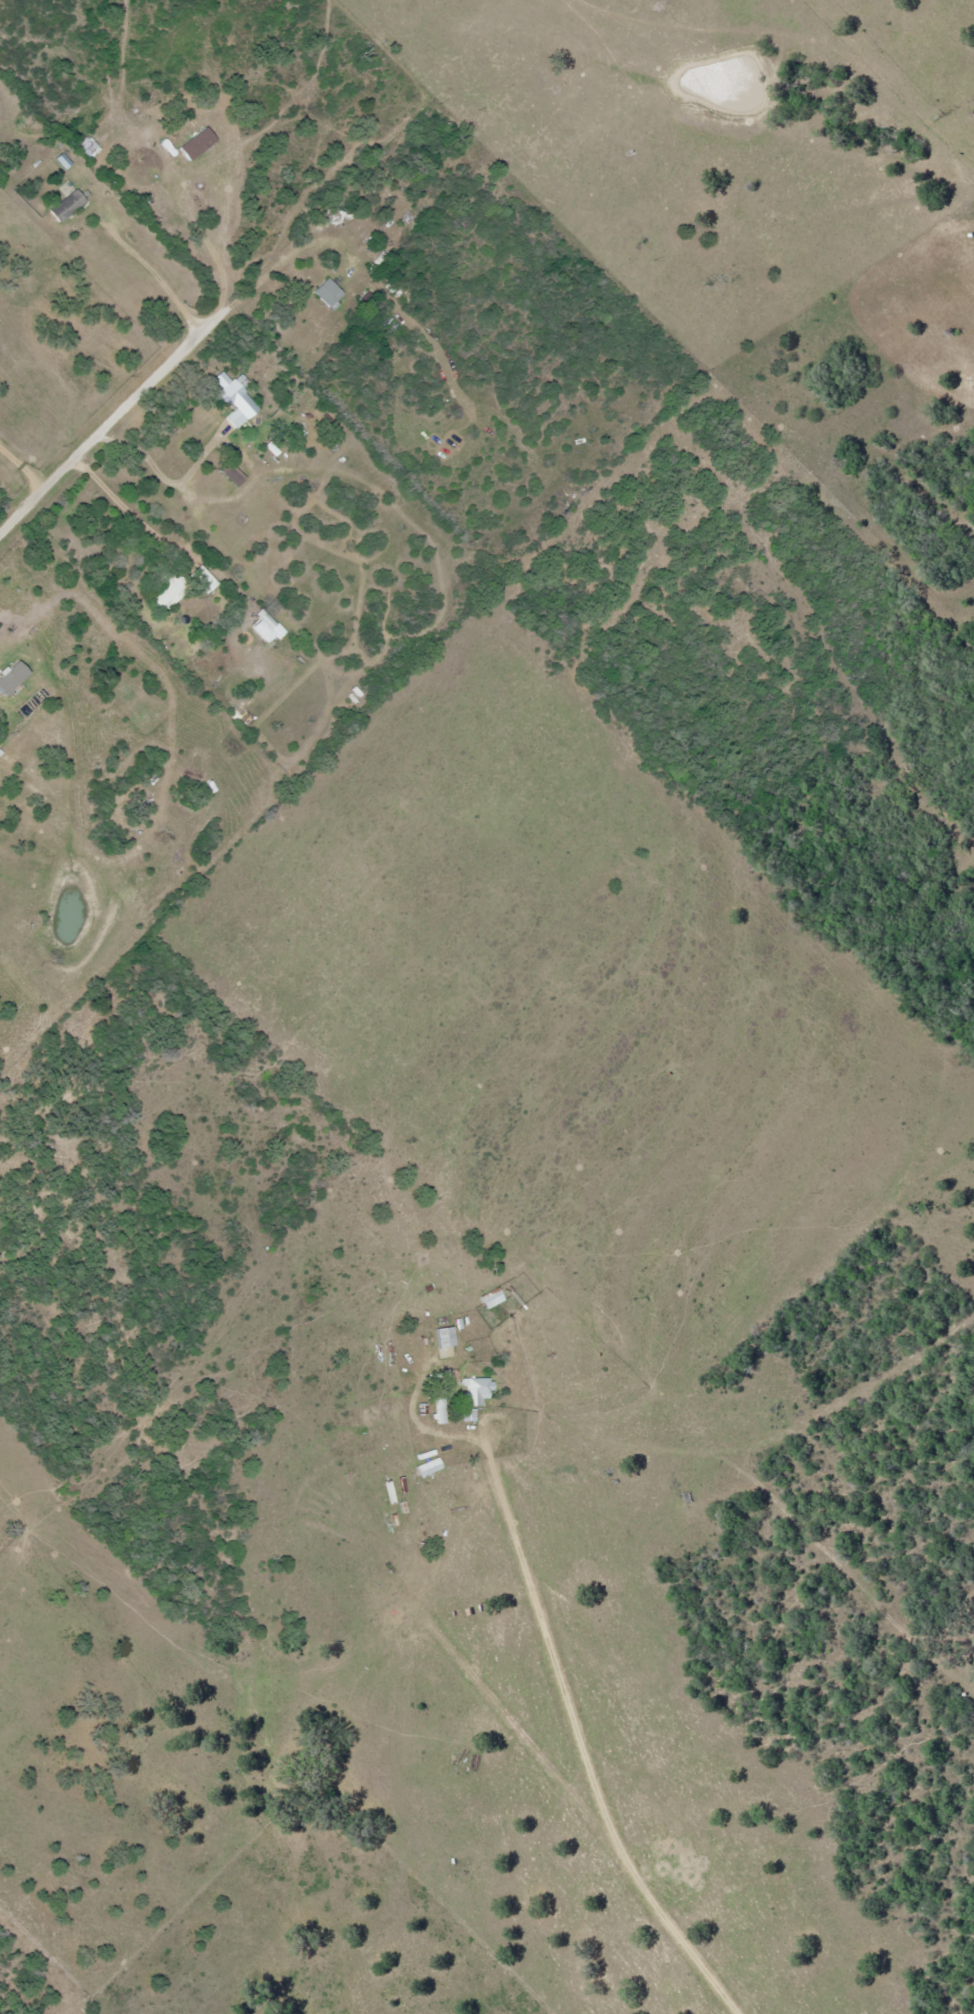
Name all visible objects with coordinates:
building: (195, 143)
building: (86, 145)
building: (65, 205)
building: (327, 294)
building: (233, 399)
road: (98, 426)
building: (201, 578)
building: (165, 589)
building: (265, 627)
building: (489, 1297)
building: (442, 1335)
building: (475, 1389)
building: (438, 1406)
building: (466, 1414)
building: (426, 1466)
road: (586, 1749)

